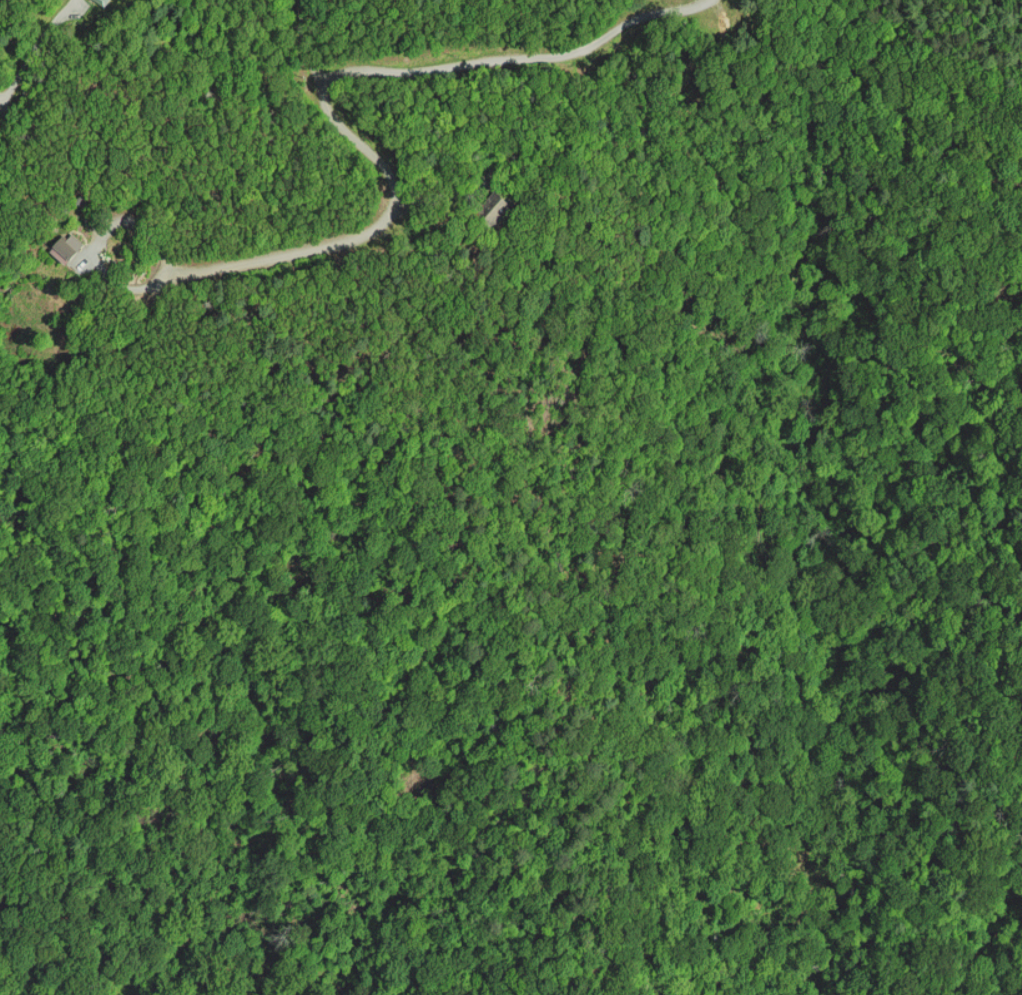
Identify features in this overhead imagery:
road: (330, 82)
road: (97, 246)
building: (73, 250)

